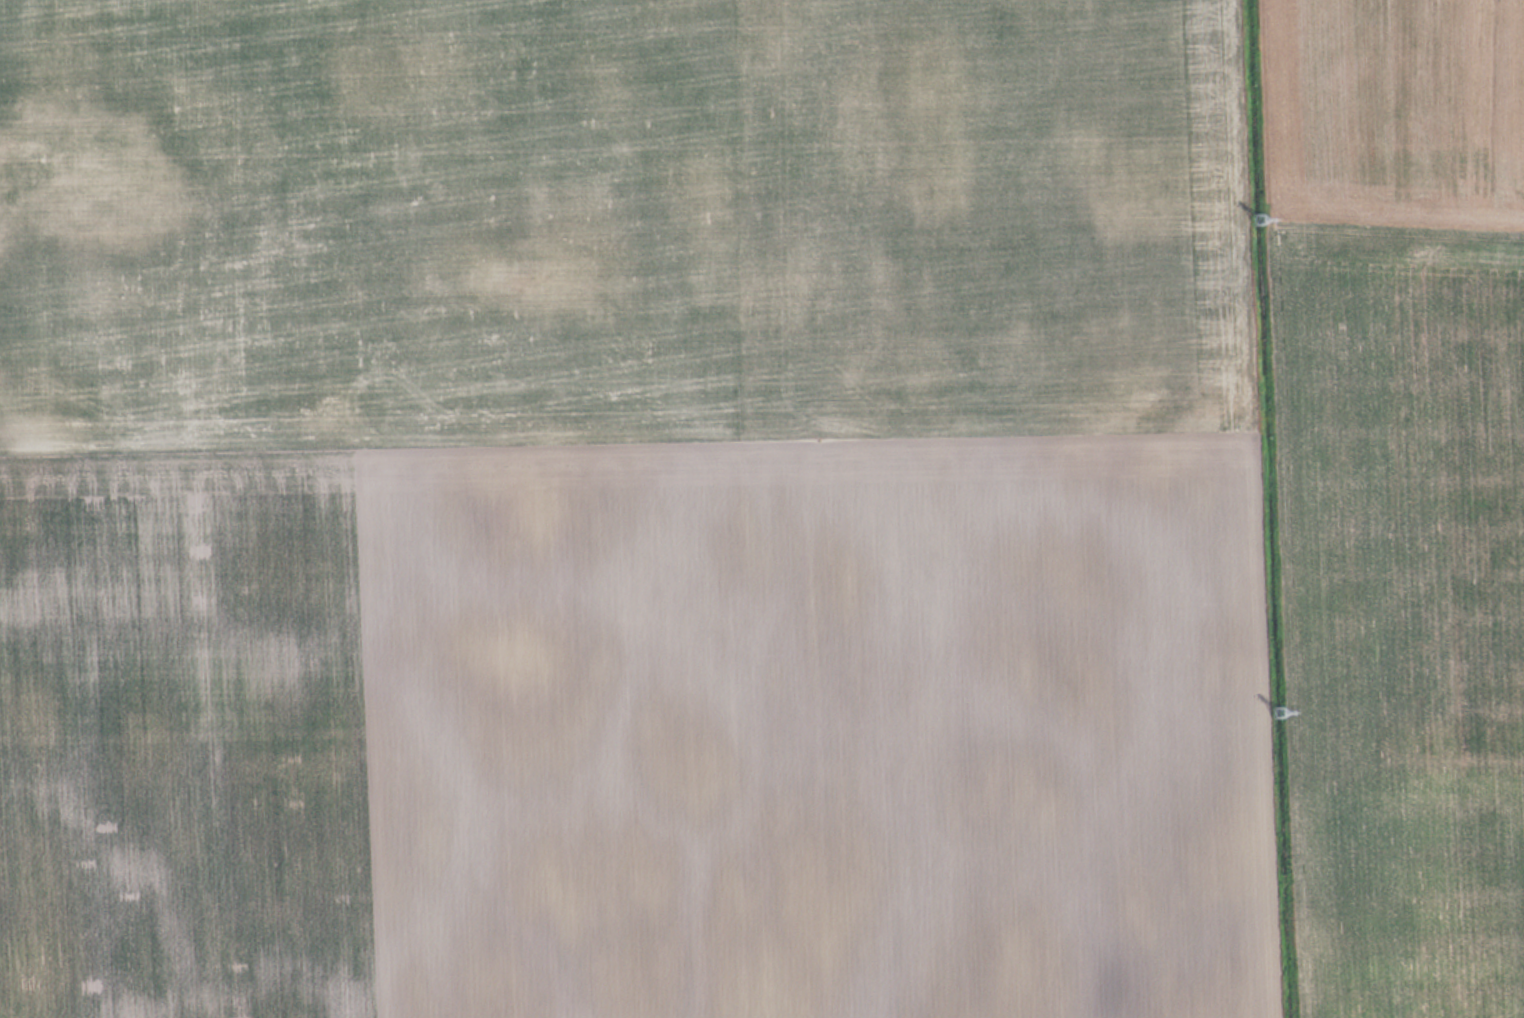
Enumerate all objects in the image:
power tower: (1259, 221)
power tower: (1283, 713)

